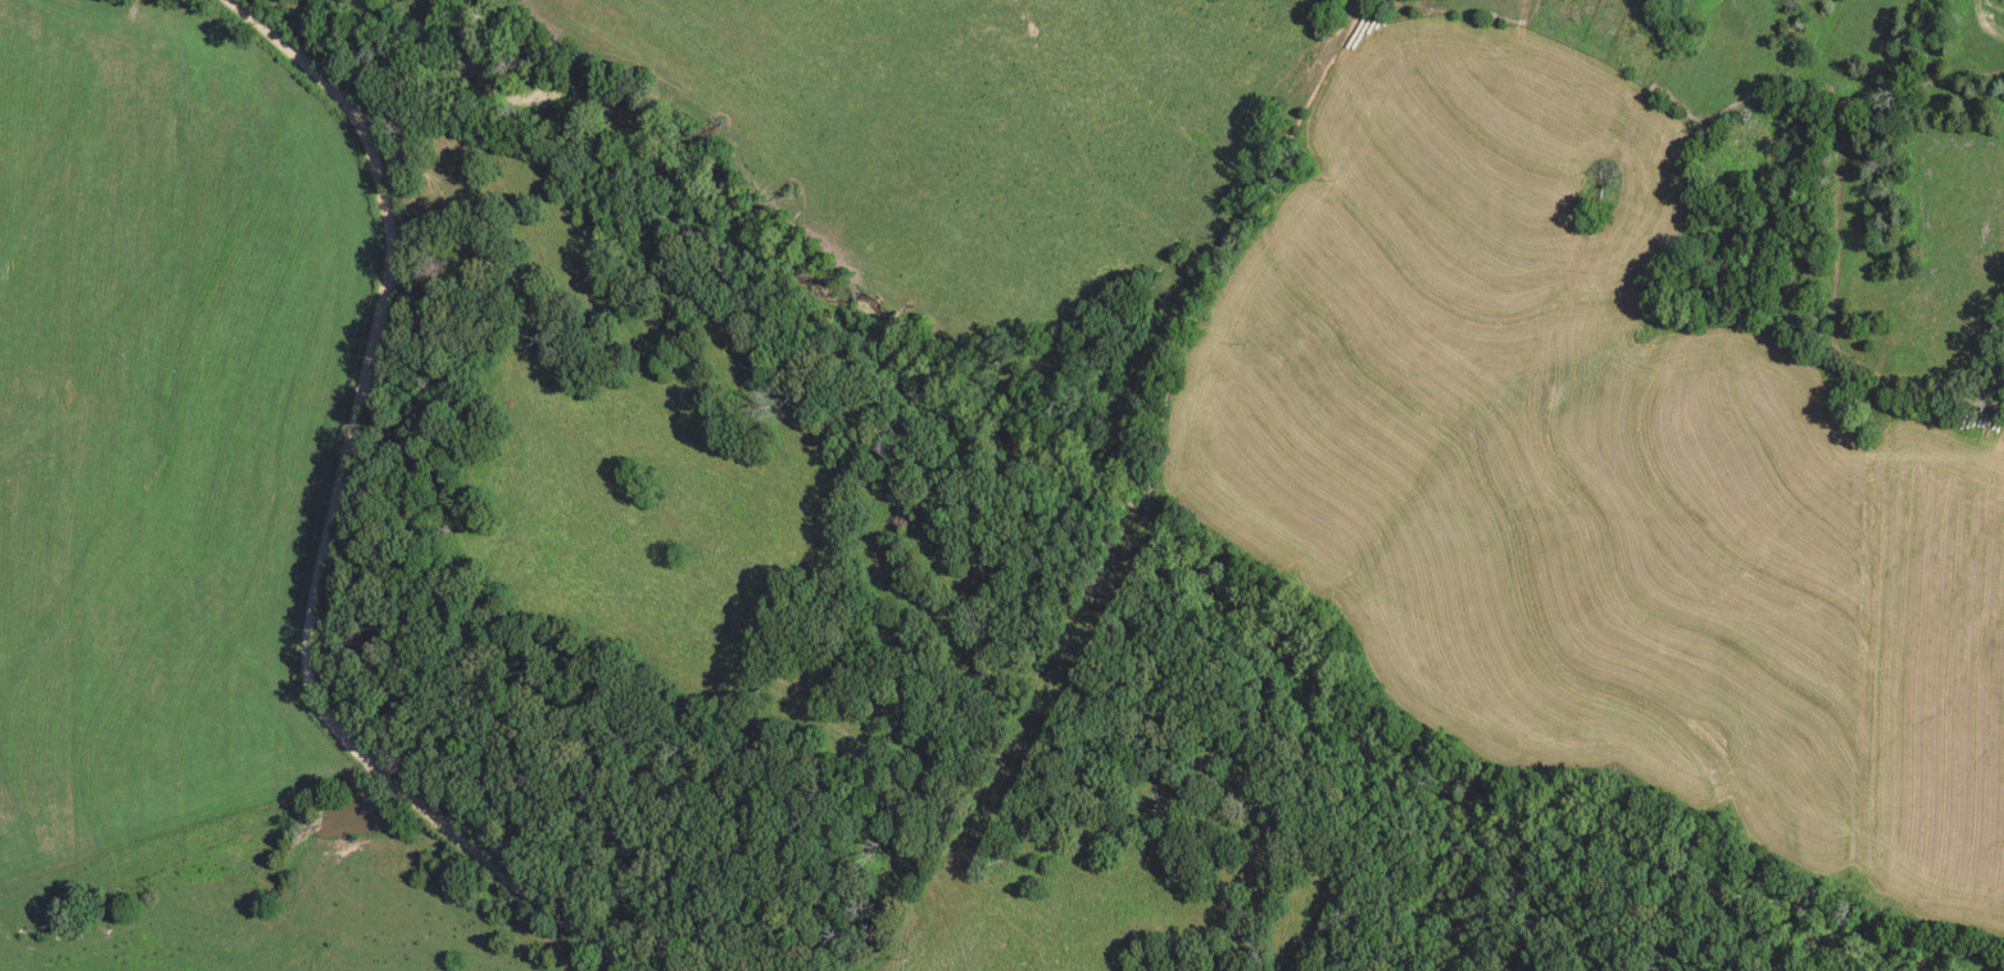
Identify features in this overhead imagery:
road: (349, 511)

